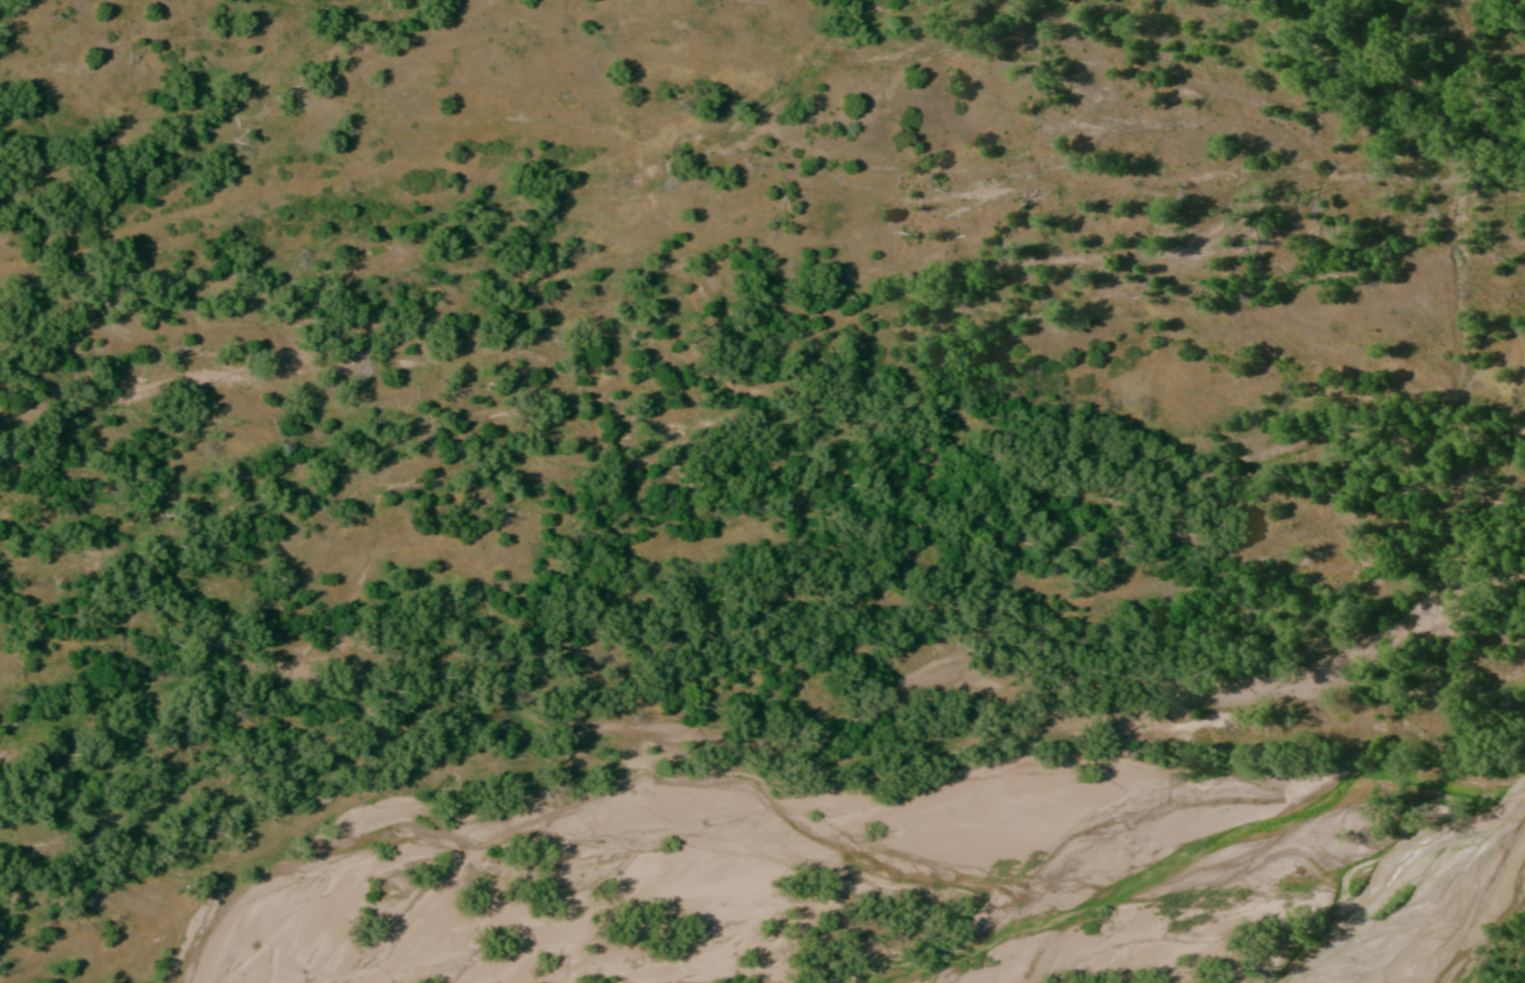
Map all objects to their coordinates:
river: (1443, 934)

